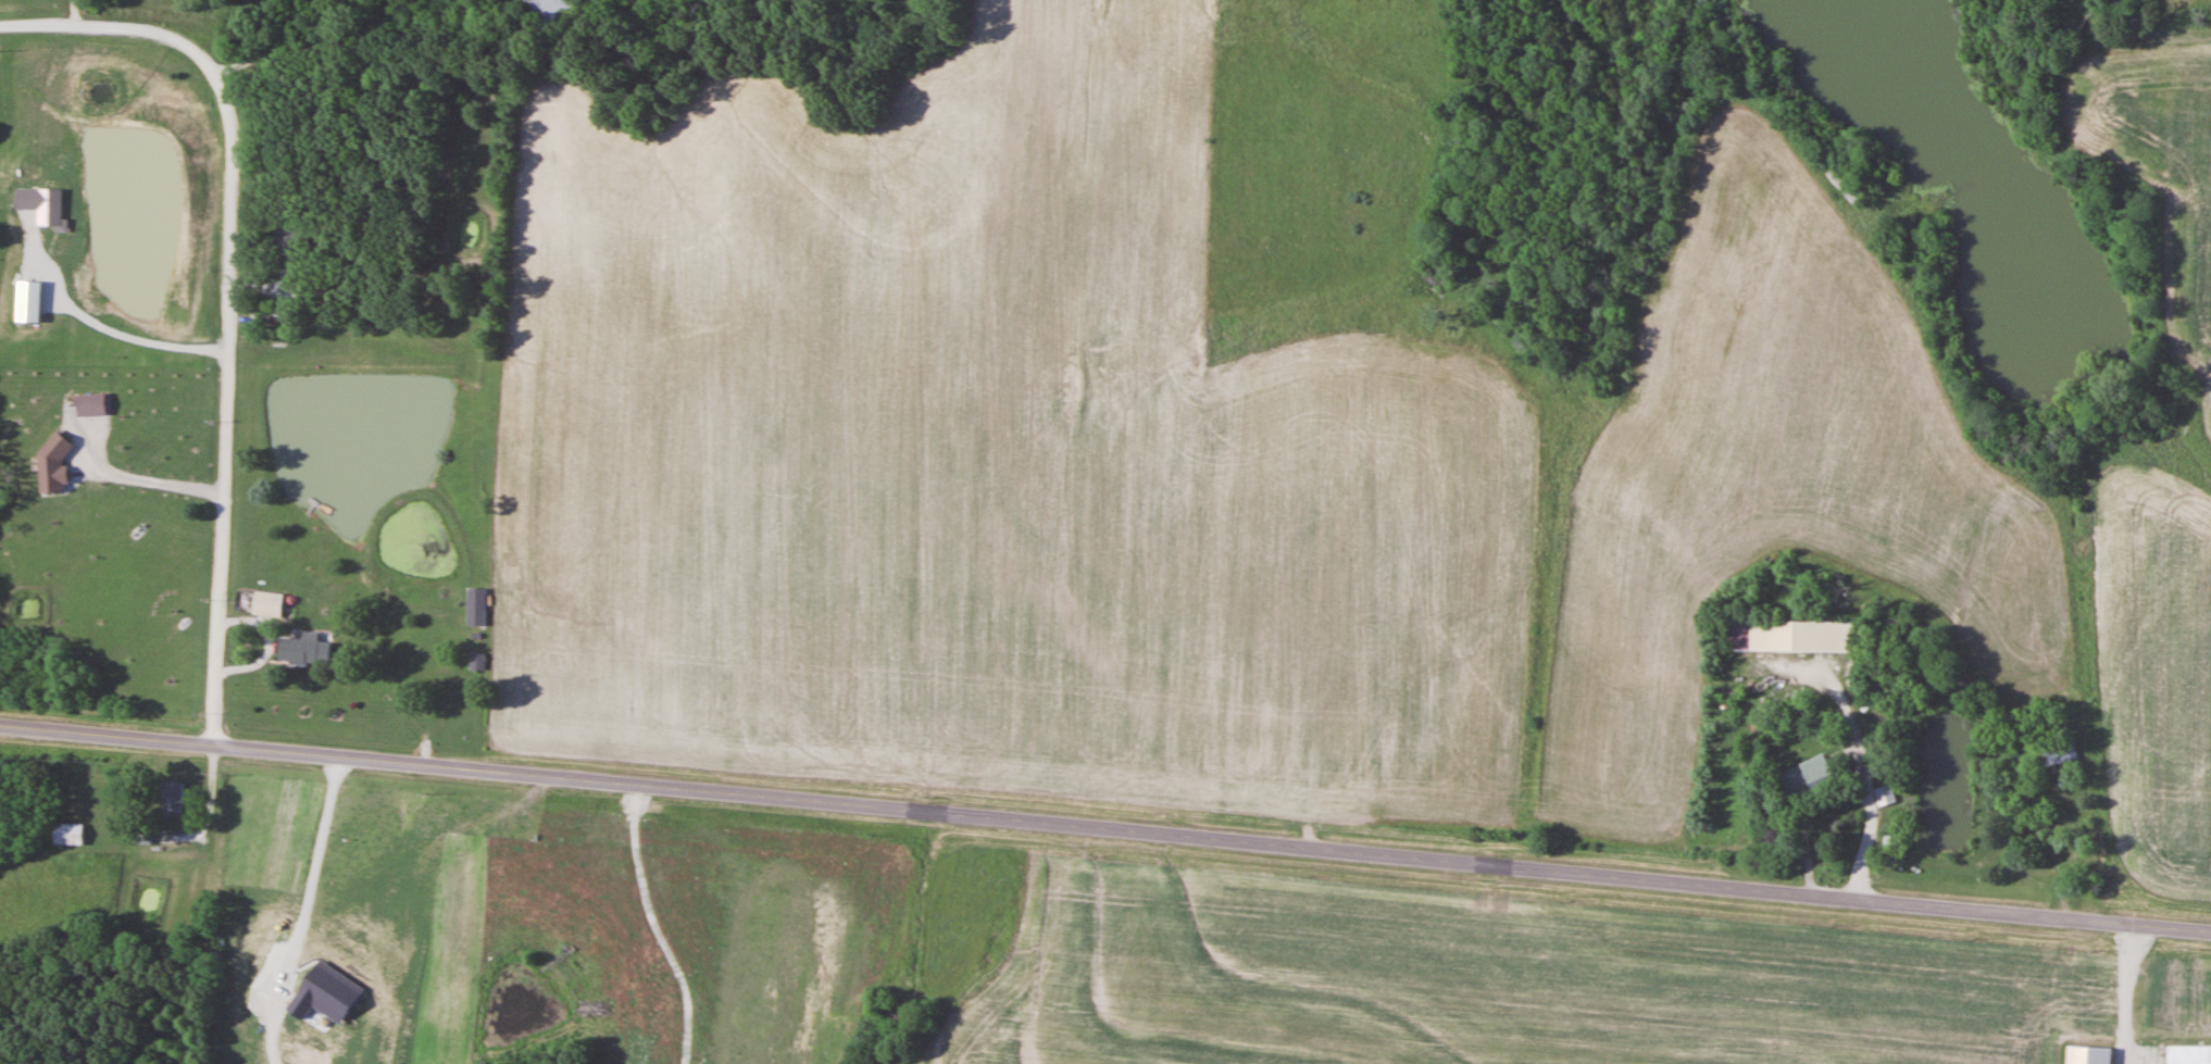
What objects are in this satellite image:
road: (70, 12)
building: (552, 12)
road: (216, 22)
building: (289, 236)
road: (226, 291)
building: (258, 318)
building: (257, 337)
road: (137, 470)
building: (268, 603)
building: (477, 606)
building: (1791, 636)
building: (304, 650)
building: (478, 661)
road: (109, 734)
building: (2058, 752)
road: (1862, 773)
building: (1809, 777)
building: (173, 797)
road: (1806, 822)
building: (68, 834)
road: (1214, 836)
building: (2189, 1054)
building: (2088, 1055)

